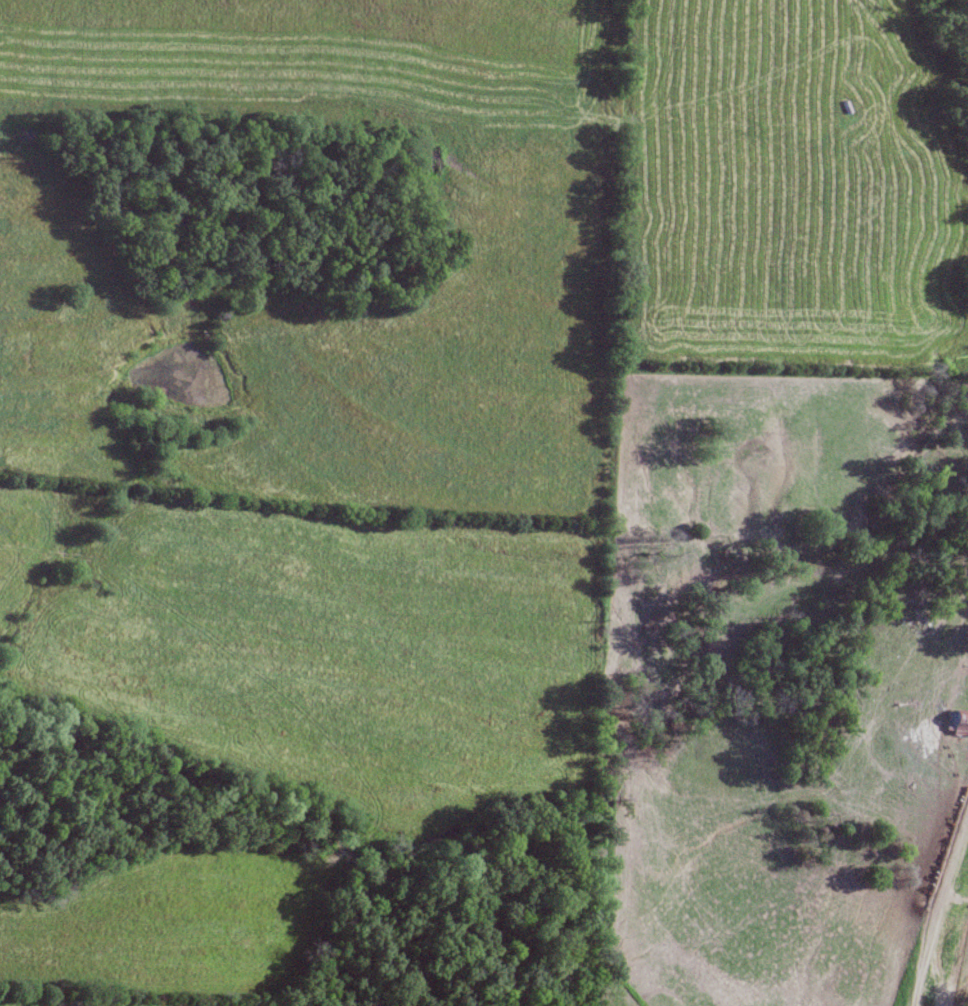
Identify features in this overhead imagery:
building: (957, 723)

